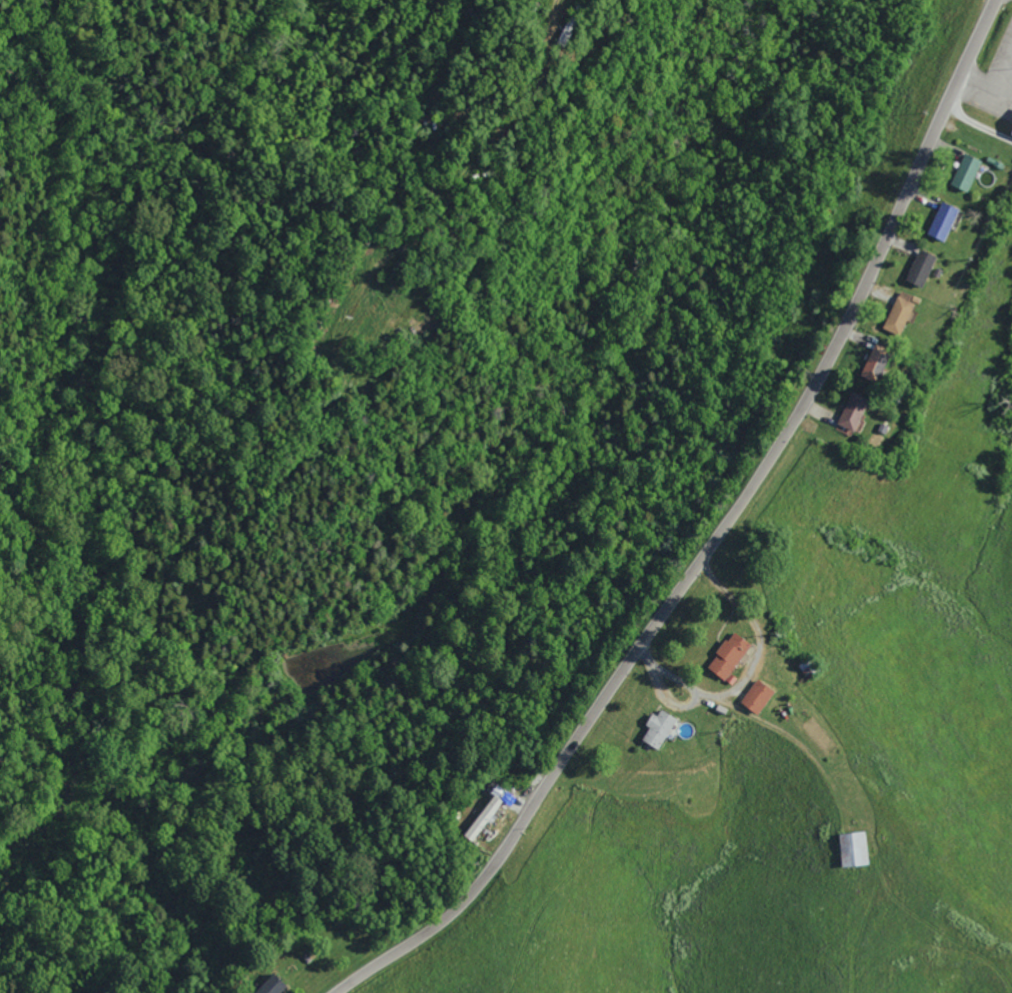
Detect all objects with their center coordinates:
road: (398, 79)
building: (965, 173)
building: (942, 222)
building: (920, 269)
building: (898, 314)
building: (874, 363)
building: (851, 413)
road: (704, 535)
building: (727, 656)
building: (756, 696)
building: (657, 728)
road: (716, 756)
building: (481, 817)
building: (852, 848)
building: (270, 985)

